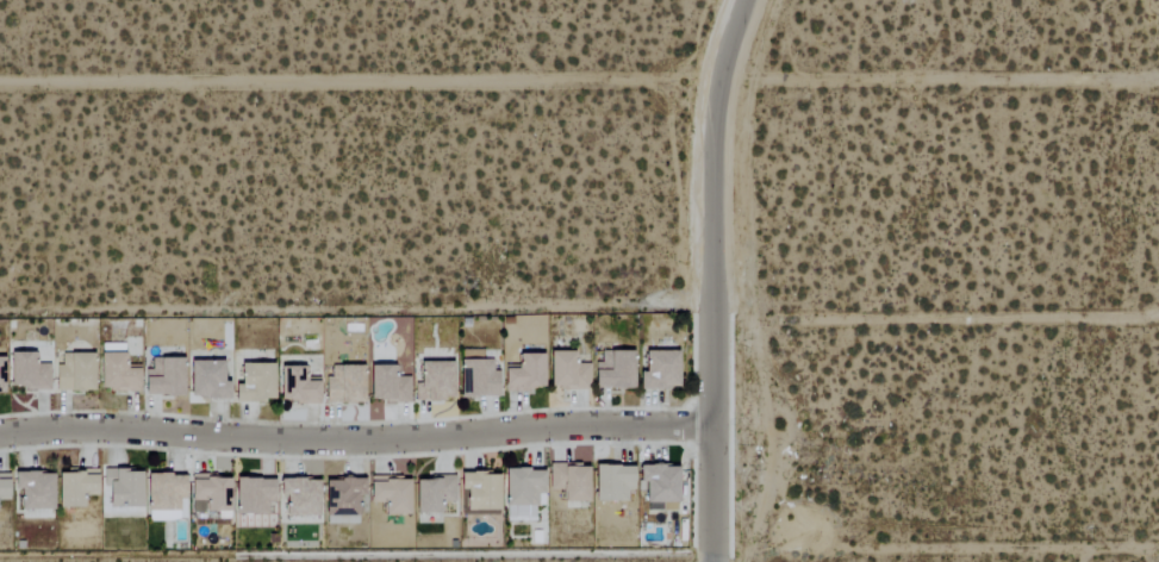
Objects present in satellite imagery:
road: (717, 277)
building: (612, 370)
building: (565, 371)
building: (658, 371)
building: (26, 373)
building: (73, 373)
building: (114, 374)
building: (524, 374)
building: (0, 377)
building: (162, 377)
building: (476, 379)
building: (205, 380)
building: (432, 381)
building: (253, 383)
building: (386, 385)
building: (344, 386)
building: (295, 387)
road: (359, 443)
building: (568, 481)
building: (611, 482)
building: (659, 486)
building: (2, 487)
building: (74, 487)
building: (121, 488)
building: (32, 491)
building: (479, 491)
building: (521, 492)
building: (207, 494)
building: (388, 494)
building: (431, 494)
building: (163, 497)
building: (251, 497)
building: (298, 497)
building: (341, 501)

